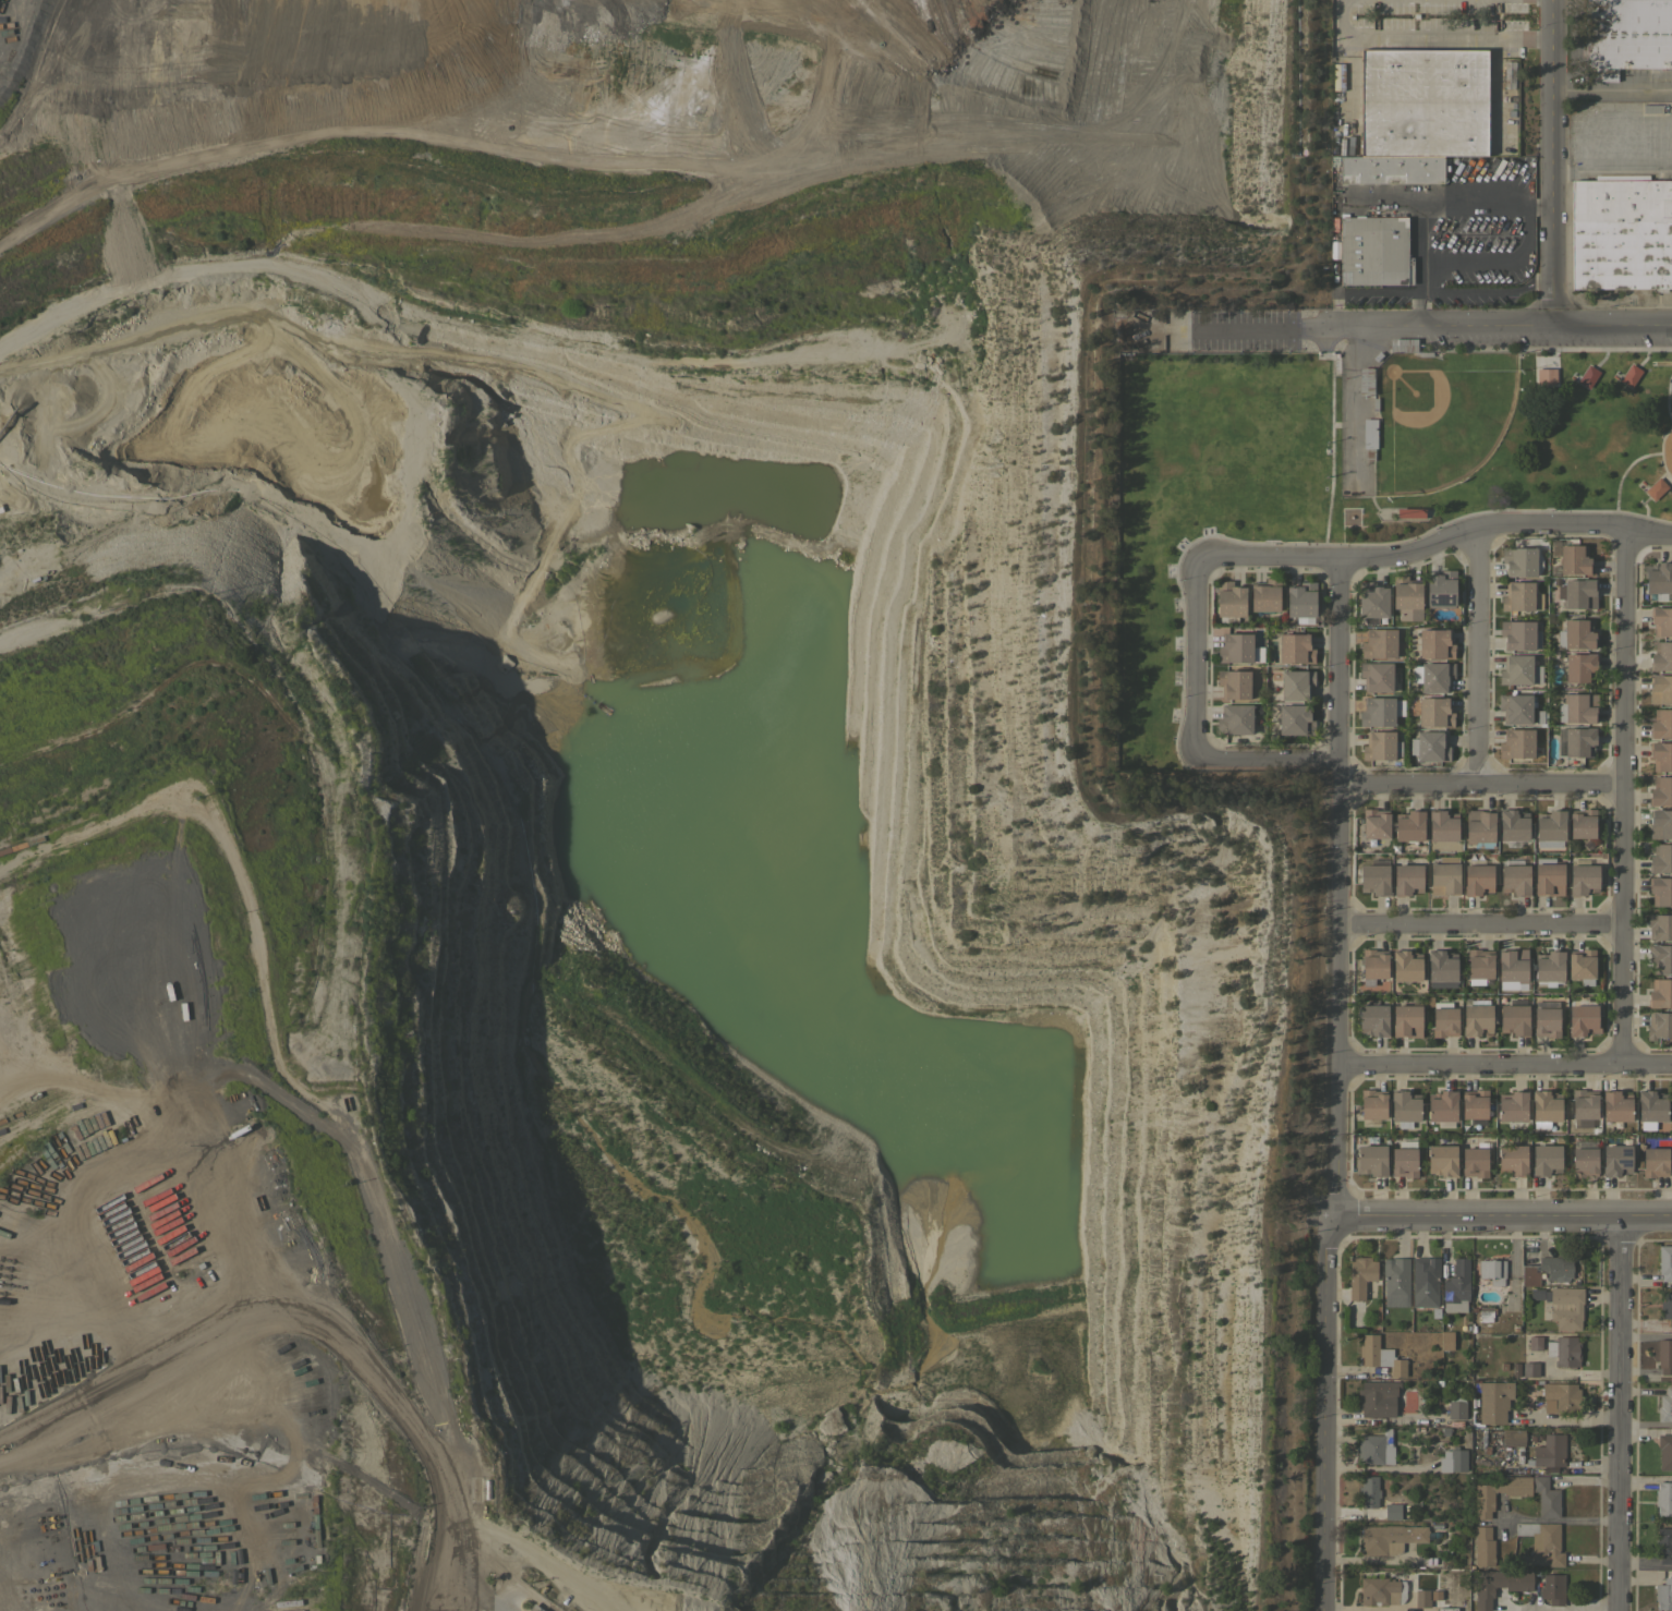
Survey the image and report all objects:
building: (1625, 35)
road: (1428, 38)
building: (1670, 73)
road: (1611, 94)
building: (1422, 101)
building: (1651, 108)
building: (1391, 161)
road: (1550, 162)
road: (1610, 166)
building: (1391, 177)
road: (1382, 197)
road: (1429, 204)
road: (1537, 204)
building: (1621, 232)
building: (1373, 251)
road: (1498, 263)
road: (1358, 290)
road: (1486, 290)
road: (1418, 308)
road: (1386, 327)
building: (1402, 344)
building: (1629, 374)
building: (1587, 375)
building: (1544, 377)
building: (1366, 380)
park: (1443, 424)
building: (1369, 437)
park: (1347, 464)
building: (1656, 488)
building: (1410, 512)
road: (1268, 558)
building: (1574, 559)
building: (1518, 560)
building: (1658, 579)
building: (1440, 589)
building: (1578, 593)
building: (1264, 594)
building: (1520, 596)
building: (1406, 597)
building: (1229, 601)
building: (1300, 602)
building: (1371, 602)
building: (1661, 620)
building: (1519, 634)
building: (1575, 634)
building: (1379, 643)
building: (1434, 643)
building: (1235, 647)
building: (1295, 647)
building: (1661, 656)
road: (1475, 657)
building: (1578, 667)
building: (1518, 670)
building: (1376, 676)
building: (1432, 676)
building: (1233, 685)
building: (1296, 685)
building: (1660, 688)
building: (1515, 706)
building: (1577, 706)
building: (1380, 710)
building: (1434, 711)
building: (1234, 718)
building: (1295, 718)
building: (1661, 723)
building: (1578, 740)
building: (1516, 742)
building: (1379, 743)
building: (1429, 744)
building: (1660, 754)
road: (1480, 784)
building: (1660, 790)
road: (1621, 795)
quarry: (609, 813)
building: (1376, 822)
building: (1513, 823)
building: (1583, 823)
building: (1660, 823)
building: (1409, 824)
building: (1443, 824)
building: (1479, 826)
building: (1550, 827)
building: (1660, 858)
building: (1548, 876)
building: (1444, 877)
building: (1374, 879)
building: (1407, 879)
building: (1478, 879)
building: (1516, 879)
building: (1583, 879)
road: (1337, 888)
building: (1660, 889)
road: (1479, 925)
building: (1659, 925)
building: (1660, 957)
building: (1479, 964)
building: (1373, 965)
building: (1406, 965)
building: (1549, 965)
building: (1582, 965)
building: (1513, 967)
building: (1441, 968)
building: (1660, 992)
building: (1514, 1018)
building: (1546, 1018)
building: (1373, 1019)
building: (1407, 1019)
building: (1477, 1019)
building: (1583, 1019)
building: (1444, 1021)
building: (1659, 1025)
road: (1504, 1064)
building: (1475, 1103)
building: (1372, 1105)
building: (1405, 1105)
building: (1513, 1105)
building: (1546, 1105)
building: (1616, 1105)
building: (1583, 1106)
building: (1442, 1107)
building: (1650, 1107)
building: (1616, 1158)
building: (1370, 1159)
building: (1513, 1159)
building: (1544, 1159)
building: (1442, 1160)
building: (1404, 1161)
building: (1655, 1161)
building: (1475, 1162)
building: (1584, 1162)
road: (1504, 1219)
building: (1664, 1261)
building: (1555, 1268)
building: (1492, 1270)
building: (1529, 1274)
building: (1360, 1275)
building: (1395, 1281)
building: (1425, 1281)
building: (1456, 1286)
building: (1565, 1306)
building: (1665, 1306)
building: (1485, 1313)
road: (1644, 1335)
building: (1564, 1352)
building: (1380, 1355)
building: (1664, 1355)
building: (1514, 1369)
building: (1528, 1369)
building: (1563, 1396)
building: (1377, 1397)
building: (1493, 1401)
building: (1664, 1405)
building: (1456, 1409)
road: (1321, 1413)
road: (1615, 1415)
road: (1644, 1421)
building: (1513, 1437)
building: (1374, 1448)
building: (1549, 1451)
building: (1664, 1451)
building: (1453, 1459)
road: (1643, 1477)
building: (1368, 1492)
building: (1546, 1497)
building: (1663, 1497)
building: (1483, 1503)
building: (1392, 1512)
road: (1556, 1517)
building: (1389, 1539)
building: (1539, 1542)
building: (1664, 1543)
building: (1483, 1547)
road: (1643, 1564)
building: (1498, 1584)
building: (1552, 1587)
building: (1381, 1589)
building: (1663, 1592)
building: (1421, 1597)
road: (1559, 1607)
building: (534, 1608)

